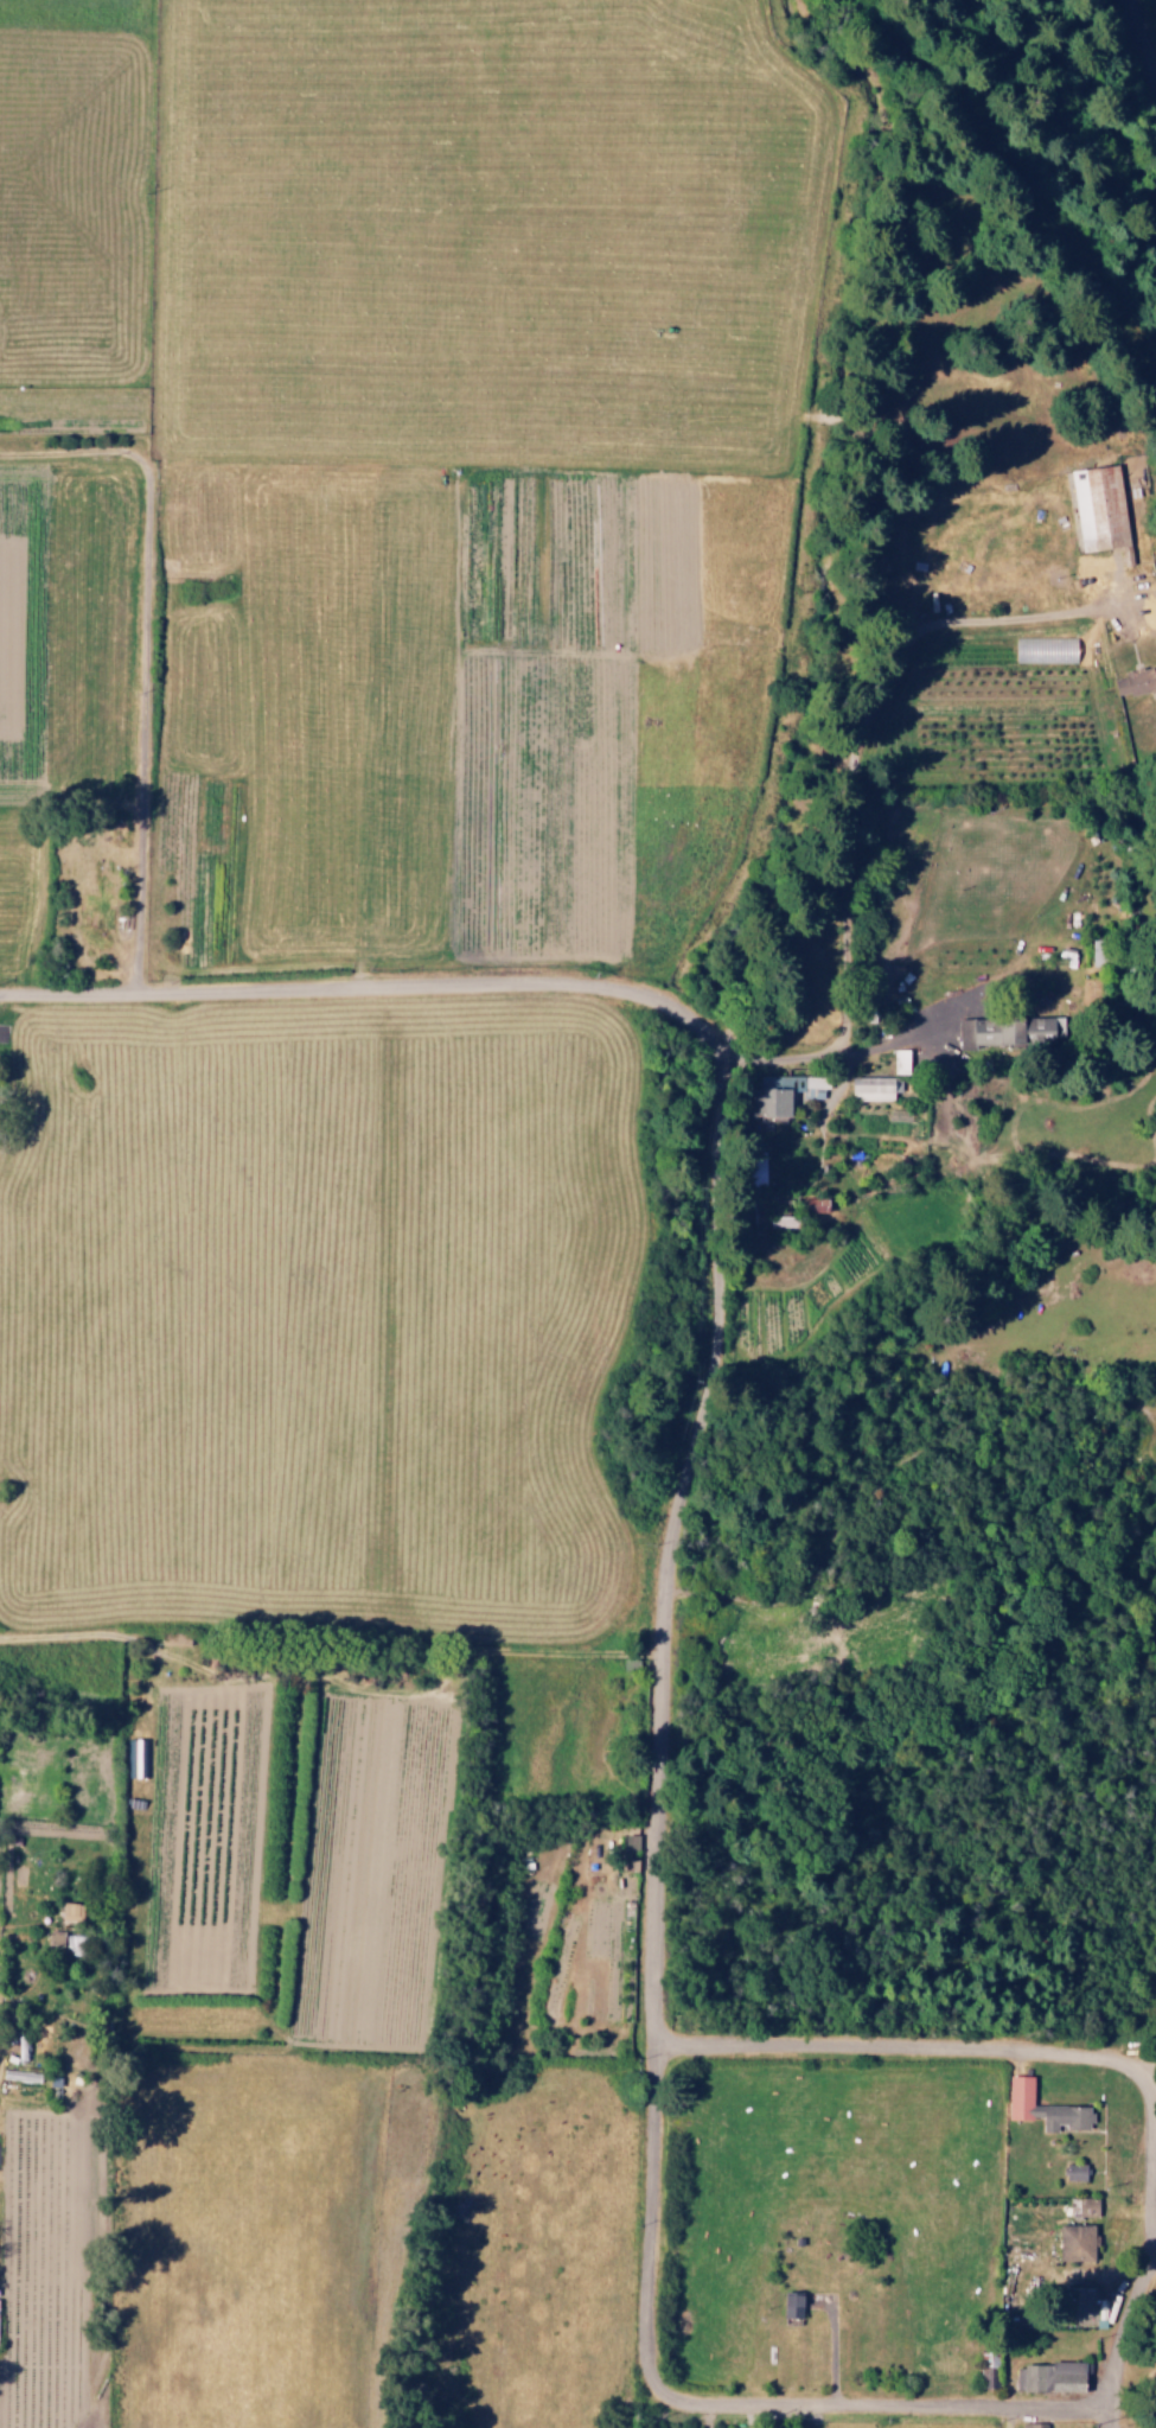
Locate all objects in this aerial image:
road: (1142, 34)
railway: (1015, 164)
building: (1099, 506)
building: (1046, 650)
building: (1131, 684)
road: (143, 729)
road: (857, 740)
road: (378, 992)
building: (1042, 1028)
building: (977, 1032)
road: (1069, 1054)
road: (798, 1057)
building: (901, 1062)
building: (875, 1088)
building: (784, 1094)
building: (815, 1205)
building: (781, 1222)
road: (660, 1722)
building: (72, 1912)
building: (56, 1938)
road: (1055, 2058)
building: (1042, 2108)
building: (1073, 2172)
building: (1073, 2242)
road: (1145, 2249)
building: (788, 2305)
building: (1047, 2377)
road: (884, 2409)
road: (1135, 2413)
road: (930, 2419)
road: (1113, 2420)

